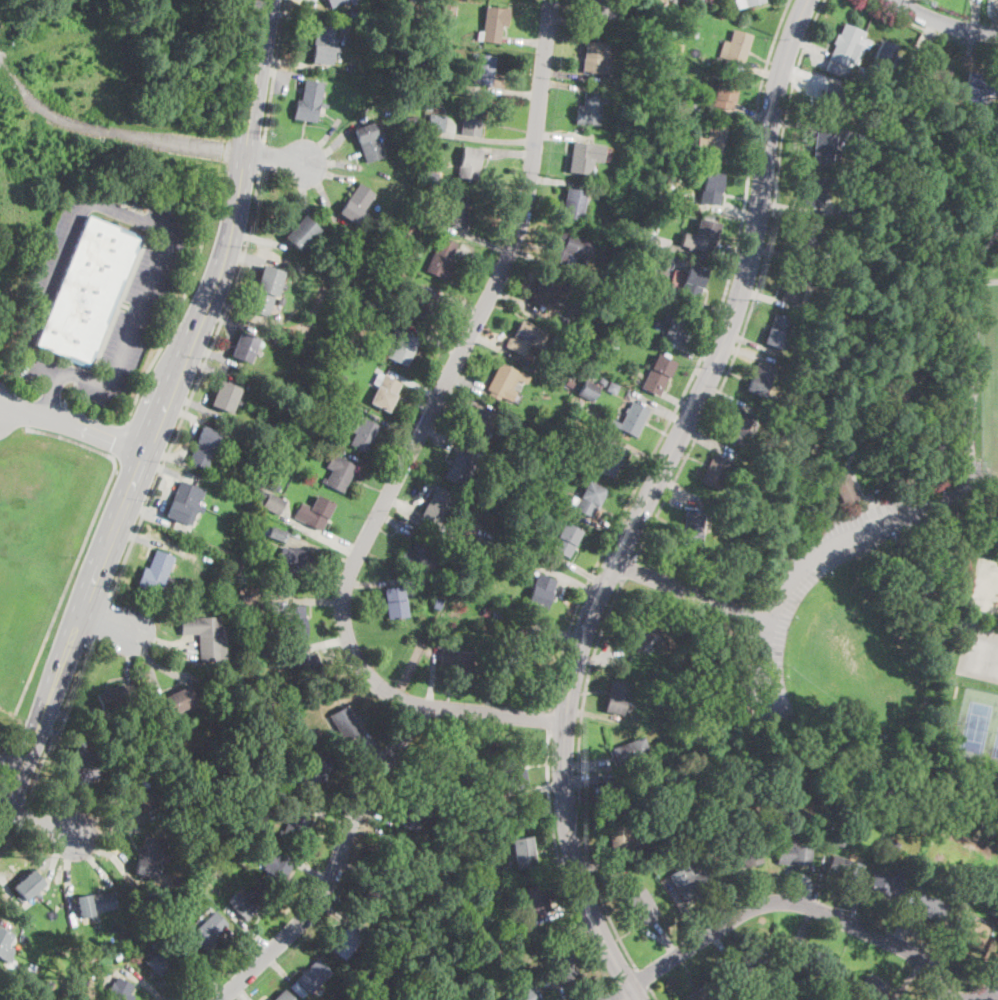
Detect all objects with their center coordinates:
building: (699, 0)
building: (334, 2)
building: (352, 2)
building: (753, 2)
building: (675, 4)
building: (601, 10)
building: (446, 11)
building: (352, 14)
road: (975, 15)
road: (989, 16)
road: (944, 22)
building: (493, 24)
road: (572, 24)
road: (929, 30)
road: (525, 40)
road: (920, 43)
building: (322, 44)
road: (809, 44)
building: (738, 46)
building: (847, 49)
building: (885, 53)
road: (905, 55)
building: (865, 57)
building: (594, 59)
road: (293, 61)
road: (754, 69)
building: (933, 69)
road: (275, 70)
building: (482, 71)
road: (279, 72)
building: (636, 72)
road: (567, 74)
road: (800, 80)
road: (283, 82)
building: (825, 84)
road: (569, 85)
building: (980, 86)
road: (515, 94)
building: (725, 94)
building: (429, 98)
building: (831, 99)
building: (308, 101)
building: (428, 105)
building: (627, 107)
building: (589, 110)
road: (755, 111)
building: (412, 118)
building: (471, 120)
building: (436, 123)
road: (811, 128)
road: (108, 131)
road: (563, 135)
road: (321, 140)
road: (486, 140)
building: (714, 140)
building: (369, 141)
building: (426, 141)
road: (334, 144)
building: (864, 145)
building: (823, 148)
road: (508, 152)
road: (261, 155)
road: (273, 155)
building: (585, 156)
road: (737, 159)
building: (468, 163)
road: (335, 164)
building: (870, 168)
road: (327, 172)
building: (430, 174)
road: (558, 182)
building: (711, 188)
road: (304, 189)
road: (323, 189)
building: (816, 190)
building: (682, 198)
building: (356, 203)
building: (574, 204)
building: (416, 207)
road: (794, 208)
road: (731, 210)
building: (845, 210)
building: (458, 211)
building: (688, 219)
building: (406, 231)
building: (301, 233)
building: (702, 236)
road: (476, 237)
building: (805, 238)
road: (258, 239)
parking lot: (59, 245)
building: (568, 248)
road: (780, 254)
road: (533, 258)
road: (265, 259)
road: (481, 259)
road: (724, 259)
building: (441, 260)
building: (642, 262)
building: (692, 281)
road: (987, 281)
building: (793, 286)
road: (756, 288)
building: (547, 290)
building: (88, 291)
building: (265, 291)
building: (383, 292)
road: (768, 297)
road: (457, 298)
building: (281, 299)
building: (424, 302)
road: (516, 302)
road: (709, 306)
parking lot: (136, 308)
building: (599, 309)
road: (246, 312)
road: (230, 320)
road: (173, 323)
building: (633, 323)
building: (677, 326)
building: (283, 327)
building: (778, 331)
building: (587, 334)
building: (525, 337)
building: (276, 338)
road: (227, 340)
road: (441, 341)
building: (612, 341)
road: (755, 344)
building: (809, 345)
building: (402, 346)
building: (244, 347)
road: (496, 348)
road: (692, 351)
road: (215, 355)
road: (753, 356)
parking lot: (24, 360)
road: (697, 363)
road: (974, 364)
road: (210, 367)
building: (585, 373)
building: (657, 375)
building: (336, 378)
building: (805, 378)
road: (466, 379)
building: (602, 380)
building: (760, 380)
building: (569, 382)
road: (108, 383)
building: (503, 383)
building: (897, 383)
road: (414, 384)
road: (192, 385)
road: (208, 387)
building: (612, 388)
building: (587, 390)
building: (384, 391)
road: (66, 393)
road: (52, 394)
road: (467, 395)
building: (225, 396)
building: (800, 397)
road: (726, 399)
road: (677, 400)
road: (193, 403)
building: (318, 405)
road: (658, 405)
park: (990, 412)
road: (159, 414)
road: (191, 416)
building: (632, 419)
building: (480, 422)
road: (73, 423)
road: (393, 426)
building: (577, 426)
building: (738, 427)
building: (362, 432)
road: (444, 437)
road: (416, 439)
road: (119, 440)
road: (189, 442)
road: (706, 443)
building: (204, 447)
road: (637, 450)
road: (168, 459)
building: (608, 460)
road: (372, 466)
building: (458, 468)
road: (167, 471)
building: (717, 472)
building: (337, 473)
building: (273, 484)
building: (845, 489)
road: (681, 491)
road: (956, 494)
road: (164, 495)
building: (512, 495)
building: (551, 496)
building: (588, 498)
road: (417, 499)
road: (647, 501)
building: (273, 503)
building: (183, 504)
building: (435, 507)
road: (405, 511)
building: (314, 512)
road: (155, 516)
building: (455, 520)
road: (398, 522)
road: (602, 525)
building: (693, 528)
road: (320, 533)
building: (277, 535)
building: (566, 539)
road: (149, 540)
road: (85, 543)
building: (483, 543)
park: (882, 548)
road: (321, 551)
building: (498, 552)
building: (419, 556)
building: (467, 561)
building: (293, 562)
road: (580, 568)
road: (627, 568)
building: (155, 572)
road: (796, 573)
road: (571, 580)
road: (952, 580)
road: (370, 582)
building: (541, 591)
road: (690, 591)
building: (250, 598)
road: (305, 600)
building: (395, 602)
building: (436, 606)
parking lot: (774, 607)
building: (667, 611)
building: (496, 614)
road: (107, 619)
building: (295, 621)
building: (639, 635)
building: (205, 636)
road: (556, 641)
road: (163, 643)
building: (515, 643)
road: (316, 647)
park: (980, 655)
road: (128, 659)
road: (601, 659)
building: (455, 661)
building: (252, 662)
road: (149, 665)
road: (168, 670)
building: (309, 671)
road: (432, 678)
building: (299, 686)
building: (288, 690)
building: (268, 696)
building: (112, 697)
building: (616, 697)
building: (180, 701)
building: (660, 701)
road: (604, 717)
road: (549, 718)
building: (658, 718)
building: (344, 723)
park: (976, 727)
building: (307, 732)
road: (60, 735)
building: (909, 748)
road: (372, 750)
building: (630, 752)
road: (10, 762)
road: (587, 766)
building: (81, 767)
building: (441, 772)
building: (513, 772)
building: (314, 773)
building: (271, 774)
road: (579, 774)
road: (413, 779)
road: (582, 784)
road: (537, 787)
building: (617, 795)
building: (137, 798)
building: (239, 801)
road: (333, 804)
building: (457, 804)
building: (506, 806)
road: (78, 813)
building: (414, 814)
road: (110, 817)
road: (328, 817)
road: (380, 818)
road: (37, 819)
building: (293, 823)
road: (115, 829)
road: (374, 830)
building: (875, 831)
building: (716, 833)
building: (443, 834)
building: (681, 835)
building: (670, 836)
building: (838, 839)
building: (241, 840)
building: (619, 840)
building: (815, 844)
building: (890, 846)
road: (104, 851)
building: (523, 852)
road: (57, 853)
building: (792, 854)
building: (150, 855)
building: (392, 857)
building: (741, 857)
road: (92, 859)
road: (557, 862)
road: (335, 864)
road: (549, 865)
building: (277, 867)
road: (609, 867)
road: (66, 868)
building: (844, 869)
road: (314, 871)
road: (355, 872)
road: (4, 873)
building: (195, 874)
road: (795, 874)
road: (728, 878)
road: (820, 880)
building: (635, 882)
building: (27, 883)
building: (689, 883)
building: (888, 884)
building: (917, 884)
road: (863, 887)
building: (164, 889)
building: (406, 890)
road: (10, 893)
building: (414, 893)
building: (211, 894)
building: (537, 899)
building: (371, 900)
road: (780, 901)
building: (98, 902)
building: (247, 903)
building: (641, 907)
building: (929, 907)
building: (163, 909)
road: (684, 909)
road: (558, 913)
road: (335, 914)
building: (157, 915)
road: (903, 917)
road: (1, 921)
building: (141, 927)
road: (807, 927)
building: (992, 927)
road: (249, 929)
building: (972, 930)
building: (208, 931)
road: (655, 935)
road: (666, 940)
building: (345, 942)
building: (997, 942)
building: (386, 943)
building: (5, 946)
road: (242, 946)
road: (719, 948)
building: (118, 954)
building: (474, 954)
building: (161, 958)
building: (808, 960)
road: (952, 962)
building: (750, 964)
building: (563, 965)
road: (278, 967)
road: (206, 970)
building: (336, 977)
road: (643, 977)
building: (310, 979)
building: (542, 980)
road: (909, 981)
road: (143, 982)
building: (839, 988)
building: (874, 989)
building: (120, 990)
road: (557, 991)
road: (617, 991)
road: (240, 993)
building: (705, 993)
road: (539, 994)
road: (653, 994)
building: (522, 995)
building: (281, 996)
building: (32, 999)

